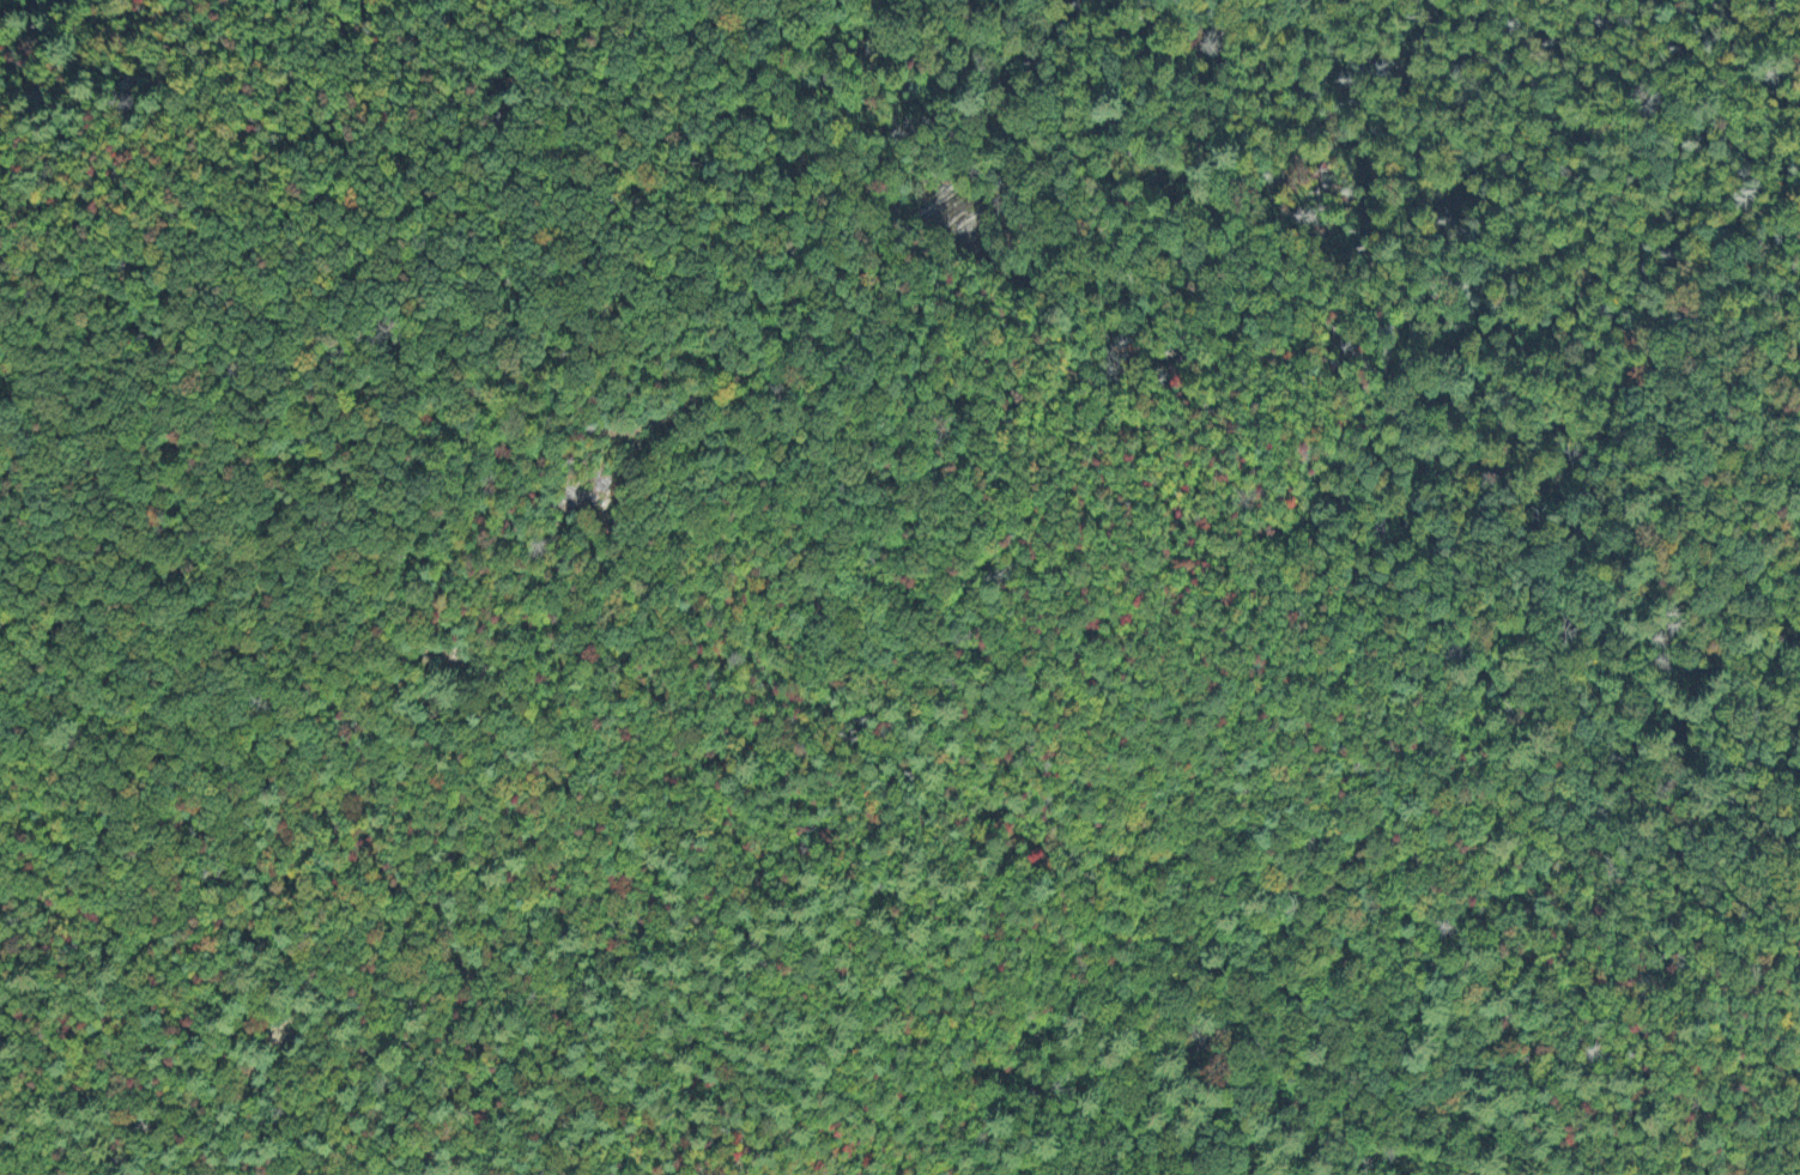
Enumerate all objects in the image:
road: (1745, 67)
road: (1768, 170)
road: (1714, 888)

